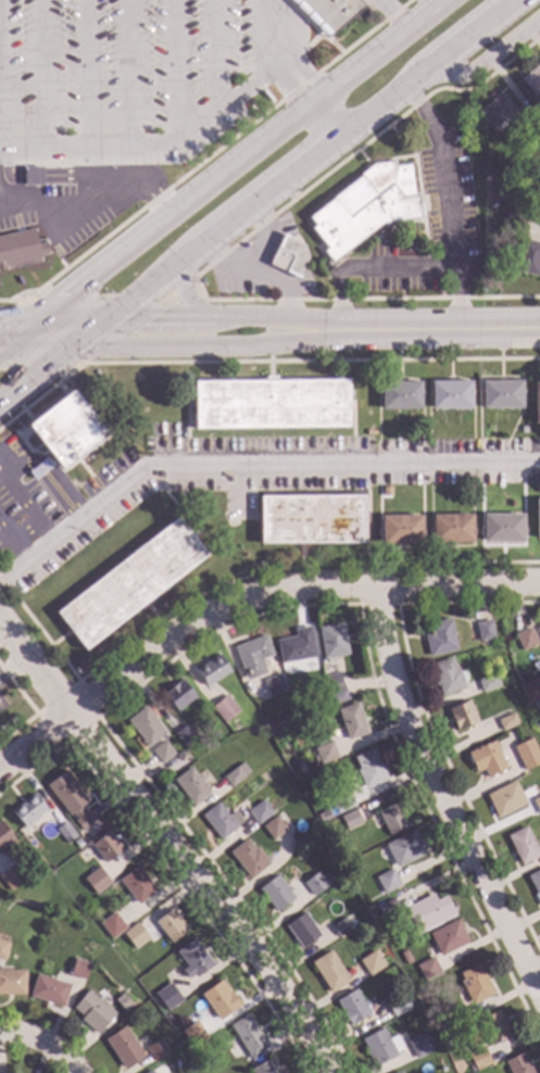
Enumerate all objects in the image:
road: (431, 3)
building: (326, 12)
road: (484, 60)
road: (291, 68)
building: (532, 79)
building: (495, 112)
building: (533, 118)
building: (539, 127)
road: (156, 147)
road: (287, 169)
road: (223, 172)
building: (32, 176)
road: (447, 194)
road: (88, 202)
building: (364, 206)
building: (508, 225)
building: (20, 249)
building: (287, 255)
building: (524, 257)
road: (369, 267)
road: (183, 292)
traffic signals: (32, 317)
traffic signals: (109, 317)
road: (150, 317)
road: (418, 327)
road: (185, 343)
traffic signals: (71, 345)
road: (35, 346)
road: (35, 371)
building: (501, 393)
building: (399, 394)
building: (450, 394)
building: (537, 402)
building: (268, 403)
building: (65, 429)
building: (523, 429)
building: (368, 431)
road: (250, 465)
building: (386, 490)
building: (60, 491)
building: (189, 498)
road: (27, 501)
building: (512, 503)
building: (537, 518)
building: (310, 519)
building: (451, 528)
building: (502, 528)
building: (400, 529)
road: (11, 546)
building: (129, 582)
road: (243, 598)
building: (484, 630)
building: (538, 631)
building: (439, 638)
building: (525, 639)
building: (332, 641)
building: (296, 645)
building: (252, 656)
road: (11, 667)
building: (212, 669)
road: (34, 671)
building: (448, 677)
building: (488, 682)
building: (273, 684)
building: (336, 689)
building: (530, 690)
building: (178, 694)
building: (224, 707)
building: (462, 715)
building: (351, 720)
building: (506, 721)
building: (228, 723)
building: (146, 725)
building: (323, 725)
building: (185, 735)
building: (162, 752)
building: (326, 753)
building: (526, 753)
building: (178, 754)
building: (314, 758)
building: (487, 759)
building: (299, 767)
building: (368, 769)
building: (235, 773)
building: (190, 785)
building: (70, 798)
building: (505, 798)
building: (340, 799)
building: (537, 803)
road: (431, 808)
building: (28, 810)
building: (259, 812)
building: (318, 813)
building: (350, 819)
building: (391, 819)
building: (221, 820)
building: (273, 828)
building: (65, 832)
building: (4, 834)
building: (77, 842)
building: (522, 845)
building: (105, 846)
building: (403, 848)
building: (0, 851)
building: (248, 858)
building: (11, 876)
building: (96, 881)
building: (387, 881)
building: (314, 883)
building: (535, 884)
building: (137, 885)
road: (199, 887)
building: (275, 893)
building: (387, 908)
building: (427, 912)
building: (112, 925)
building: (169, 925)
building: (340, 926)
building: (302, 930)
building: (135, 935)
building: (448, 937)
building: (2, 949)
building: (404, 957)
building: (192, 959)
building: (369, 962)
building: (427, 968)
building: (78, 969)
building: (329, 971)
building: (12, 982)
building: (474, 984)
building: (48, 989)
building: (168, 996)
building: (218, 999)
building: (122, 1002)
building: (398, 1003)
building: (352, 1008)
building: (92, 1011)
building: (461, 1015)
building: (488, 1030)
building: (193, 1034)
building: (248, 1036)
road: (40, 1040)
building: (380, 1046)
building: (419, 1046)
building: (123, 1047)
building: (228, 1047)
building: (156, 1050)
building: (477, 1059)
building: (517, 1064)
building: (266, 1066)
building: (1, 1072)
building: (149, 1072)
building: (398, 1072)

